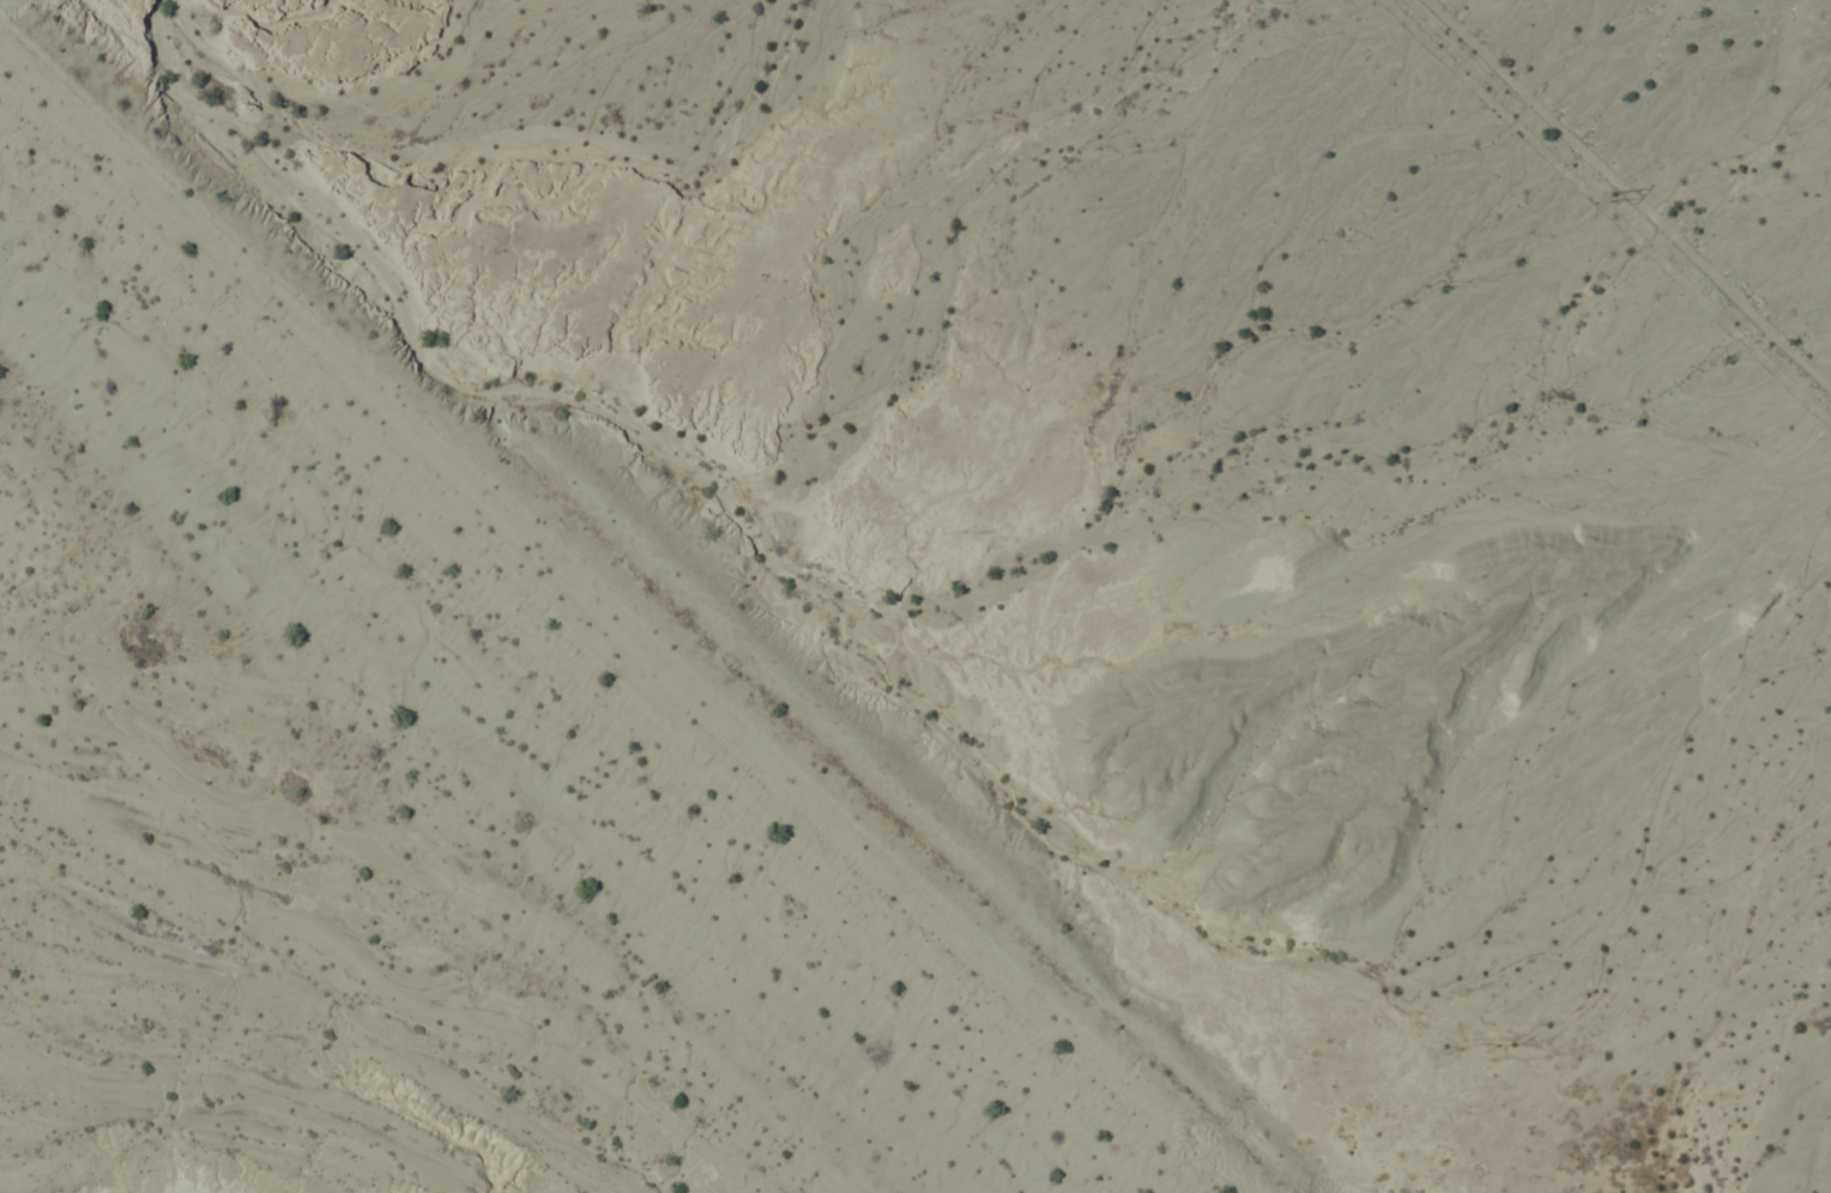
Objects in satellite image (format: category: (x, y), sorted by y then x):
power tower: (1602, 198)

